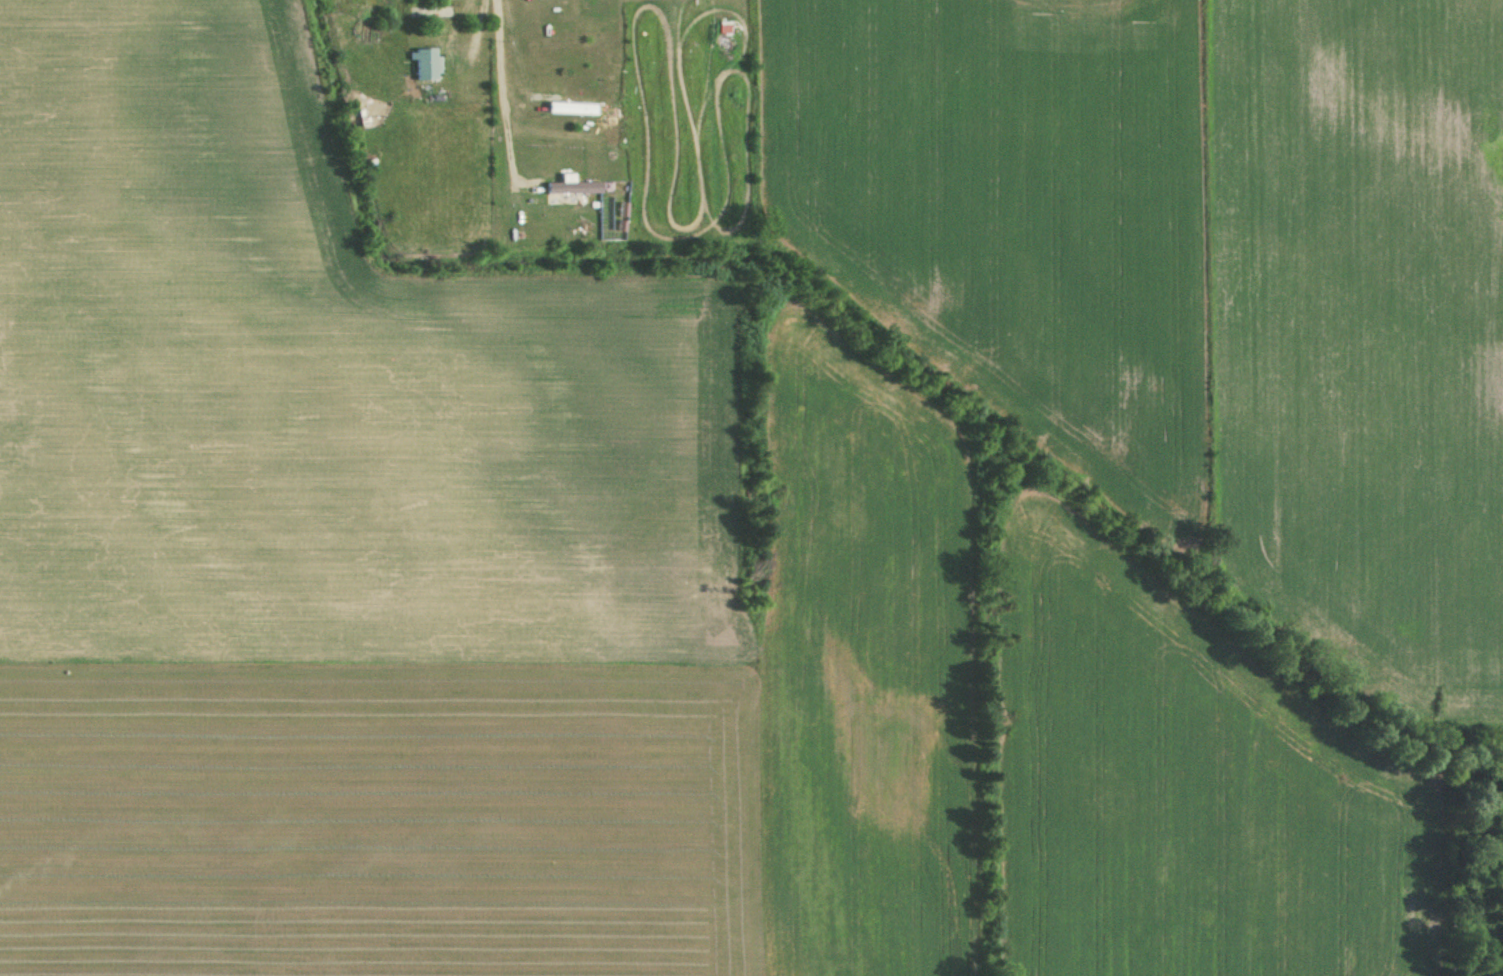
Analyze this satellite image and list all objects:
road: (493, 23)
building: (425, 65)
building: (728, 98)
building: (569, 109)
building: (609, 118)
building: (568, 199)
building: (583, 221)

